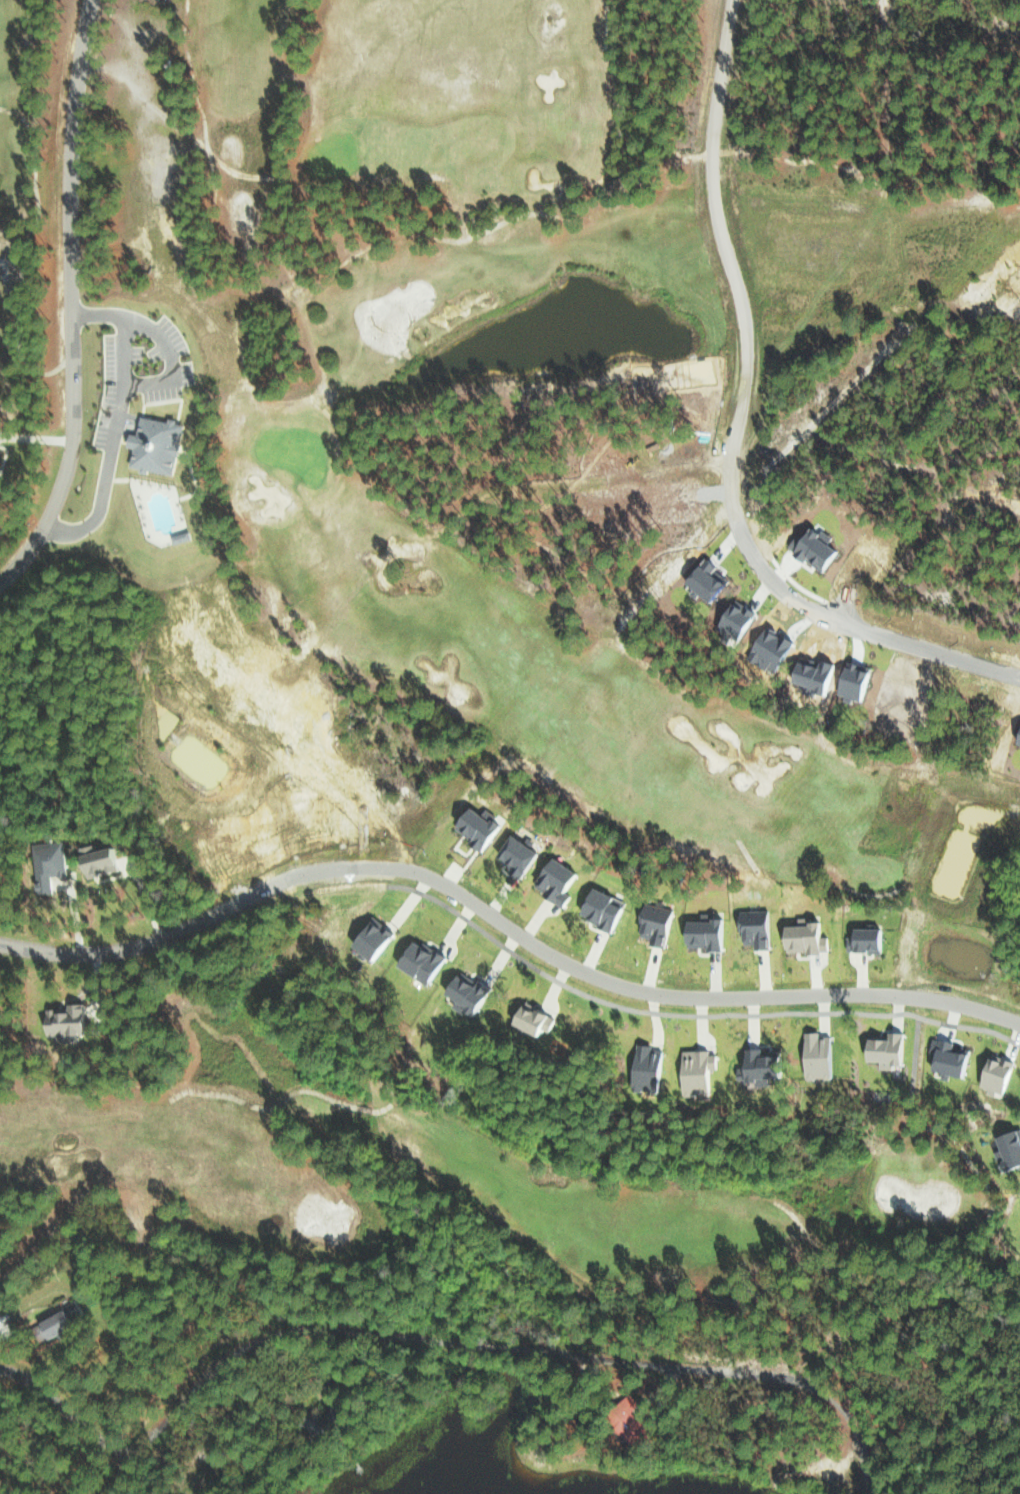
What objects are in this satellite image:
road: (70, 299)
building: (161, 445)
building: (0, 449)
building: (0, 465)
building: (186, 537)
road: (858, 626)
park: (508, 658)
road: (270, 793)
building: (483, 827)
building: (522, 855)
building: (106, 861)
building: (59, 862)
building: (561, 881)
building: (606, 909)
road: (200, 922)
building: (660, 924)
building: (760, 928)
building: (710, 933)
building: (809, 937)
building: (379, 939)
building: (870, 940)
building: (425, 961)
building: (473, 994)
road: (695, 998)
building: (537, 1019)
building: (72, 1022)
building: (891, 1048)
building: (823, 1055)
building: (953, 1058)
building: (765, 1066)
building: (654, 1069)
building: (701, 1073)
building: (1000, 1076)
building: (1011, 1150)
building: (69, 1318)
road: (430, 1342)

